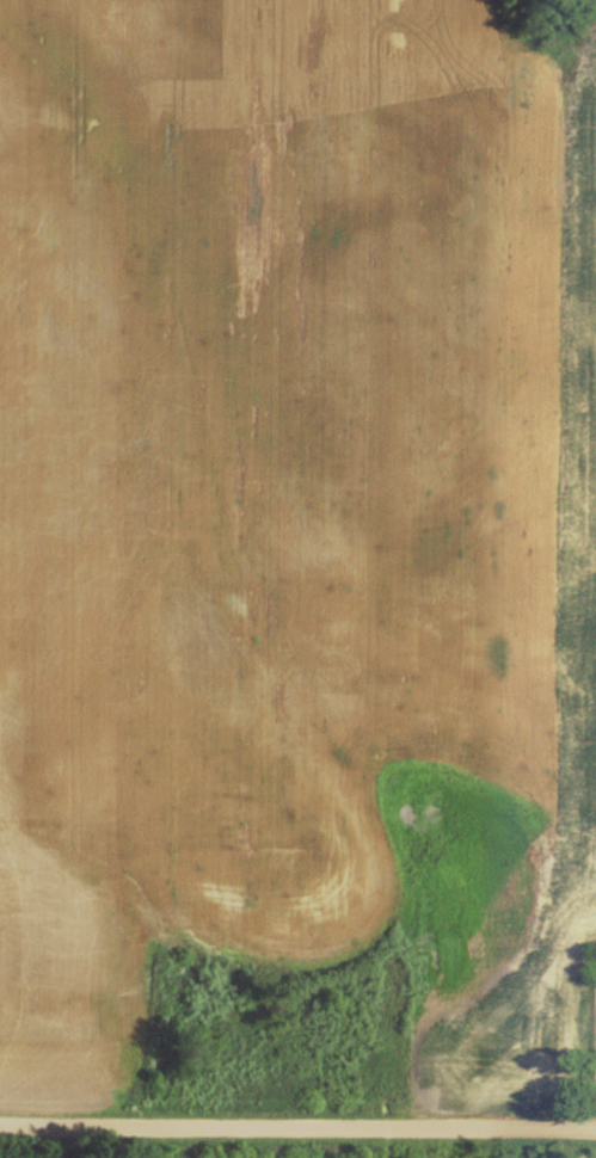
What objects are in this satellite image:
road: (297, 1128)

